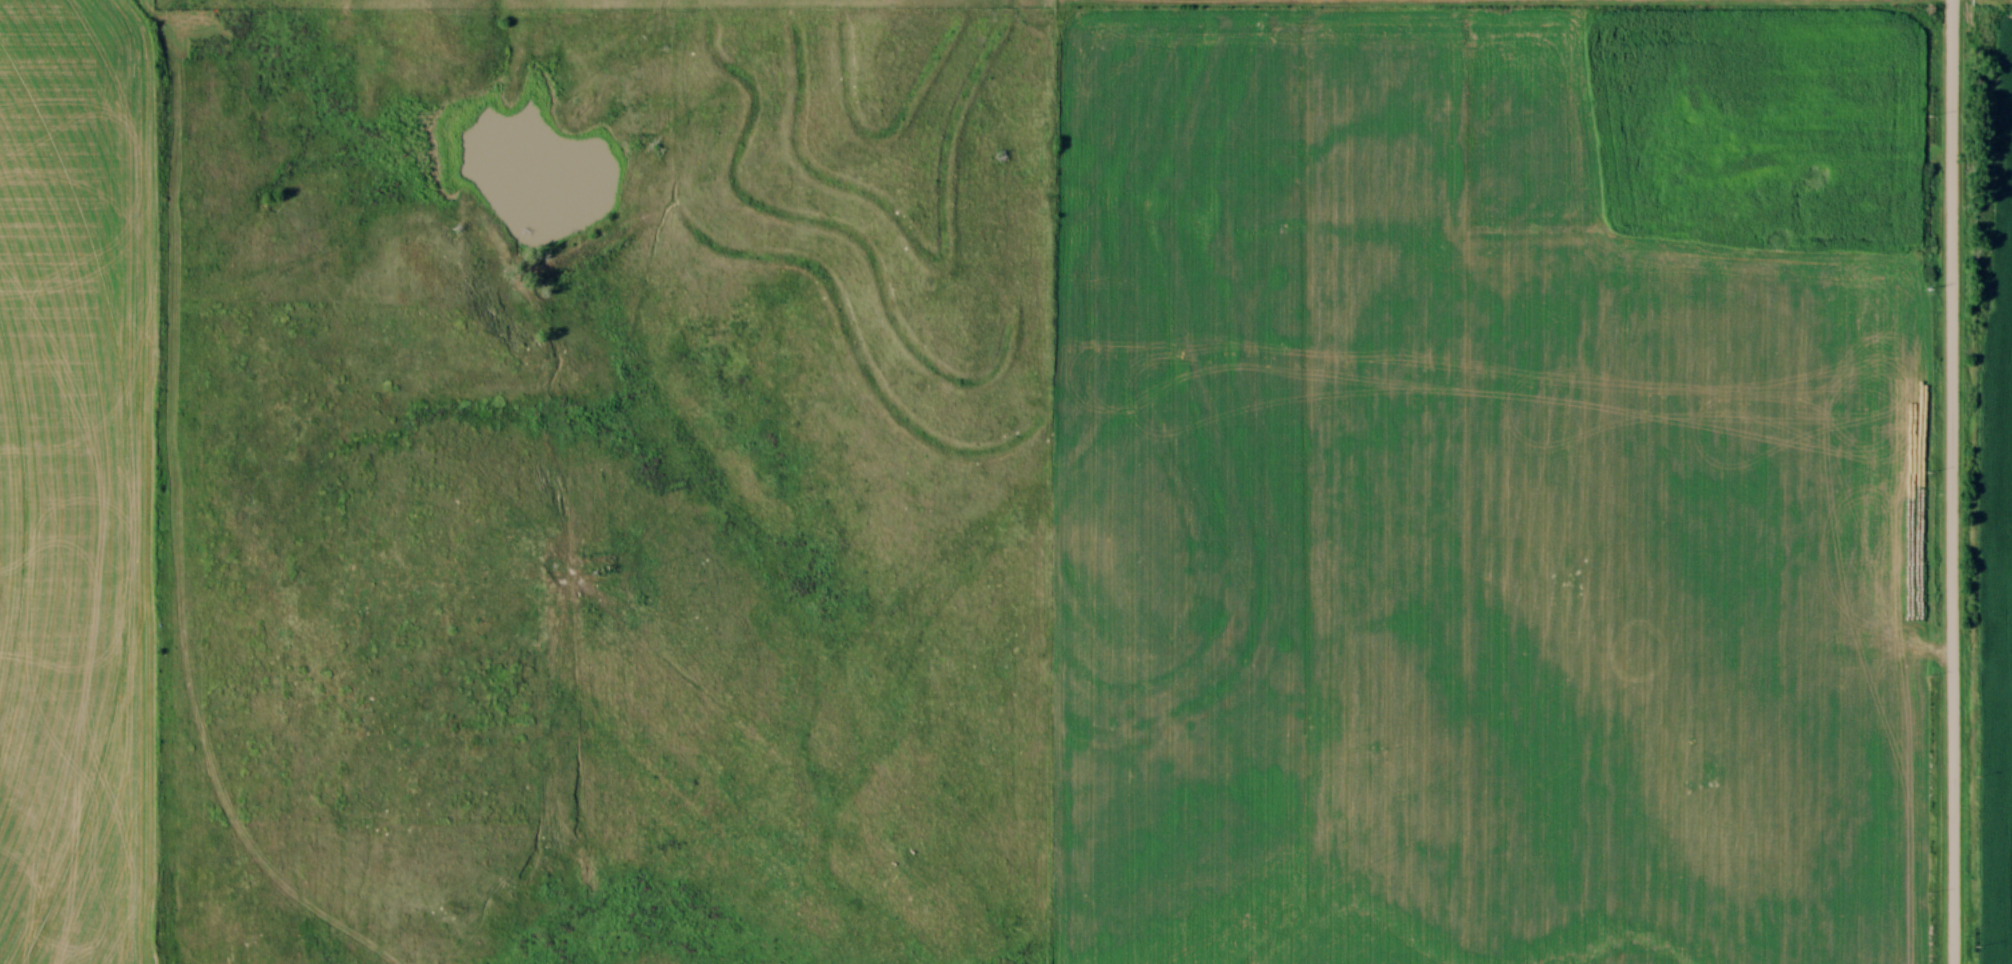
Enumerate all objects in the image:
park: (1994, 3)
road: (1953, 481)

